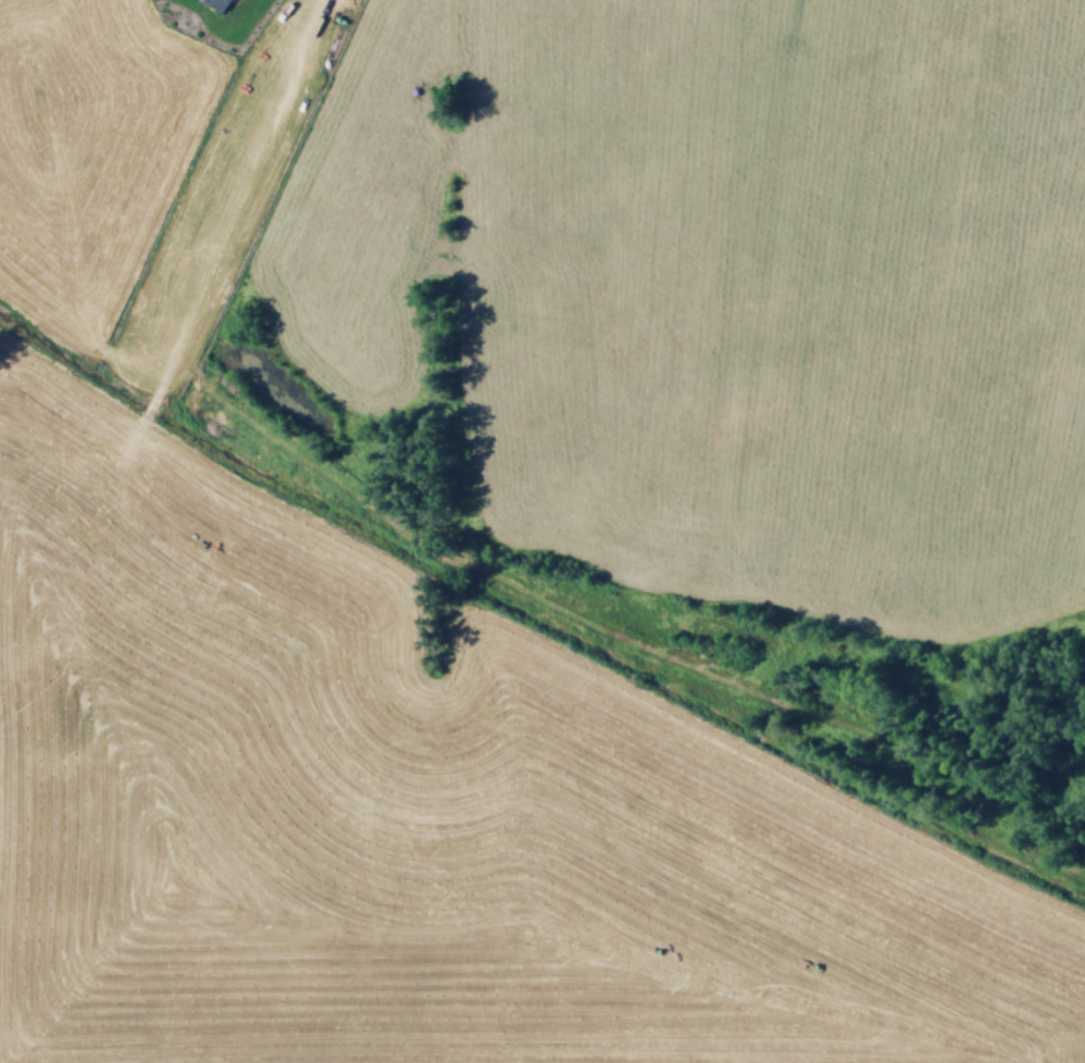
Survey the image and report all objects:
building: (221, 3)
crop: (417, 820)

